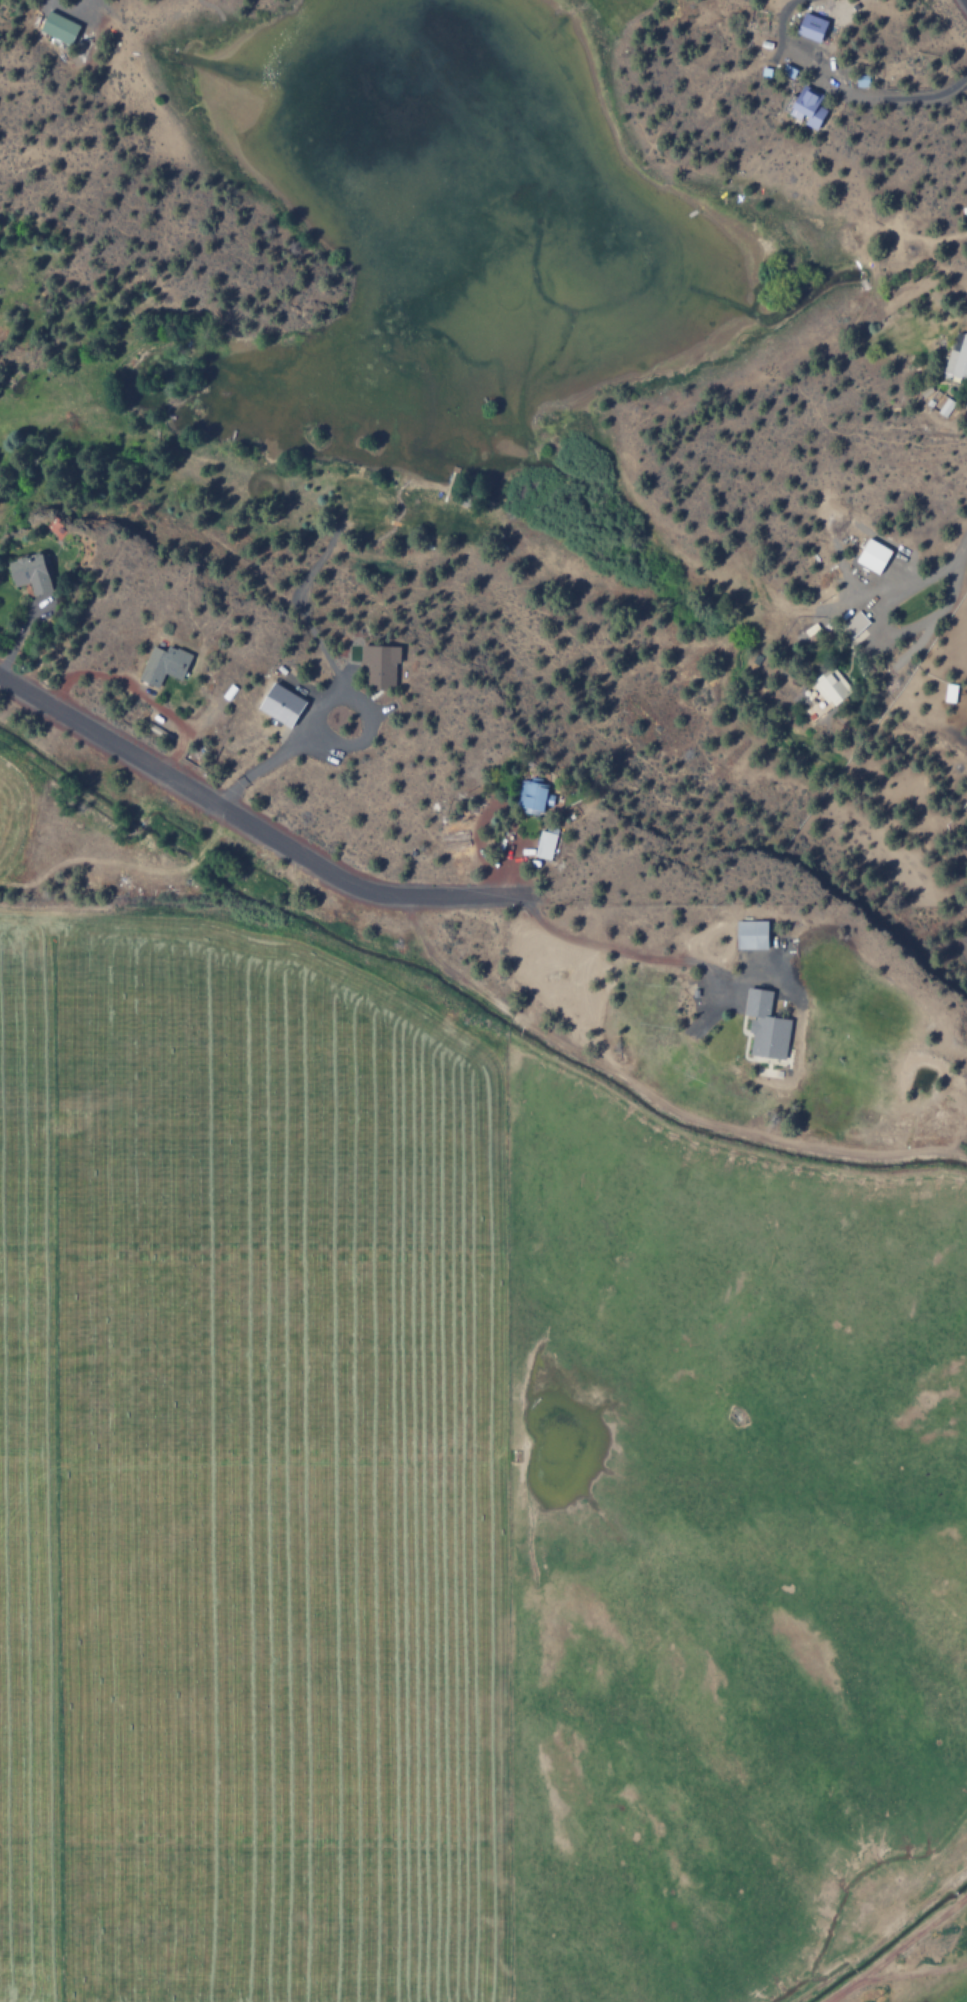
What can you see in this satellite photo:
building: (810, 26)
building: (57, 27)
building: (806, 107)
building: (957, 360)
building: (925, 390)
building: (929, 403)
building: (945, 407)
building: (29, 572)
road: (946, 601)
building: (853, 625)
building: (162, 665)
building: (378, 665)
building: (830, 686)
building: (949, 693)
building: (279, 705)
building: (531, 796)
road: (253, 826)
building: (544, 843)
building: (750, 935)
road: (651, 959)
building: (693, 993)
building: (764, 1026)
building: (778, 1073)
road: (652, 1095)
crop: (444, 1516)

